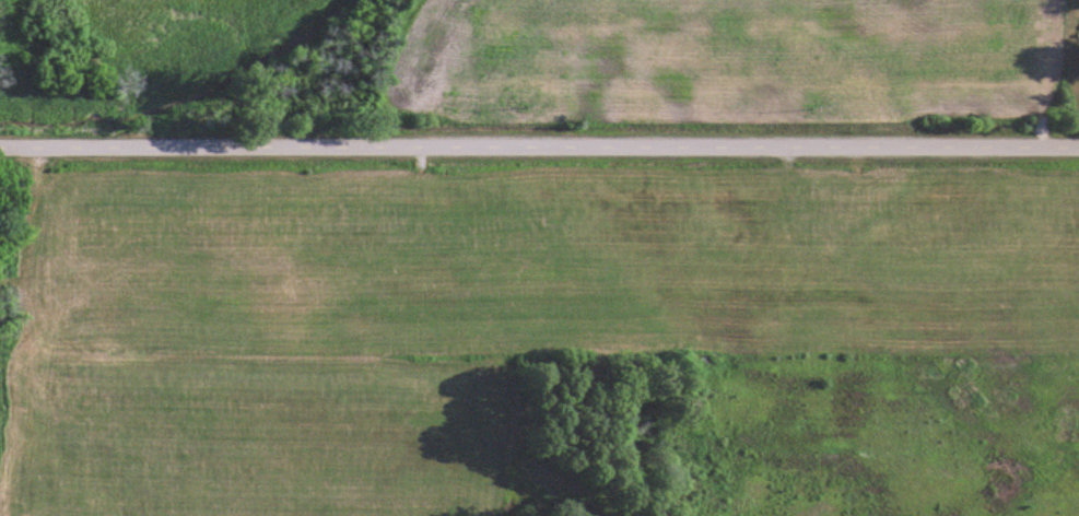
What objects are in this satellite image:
road: (539, 153)
building: (0, 256)

